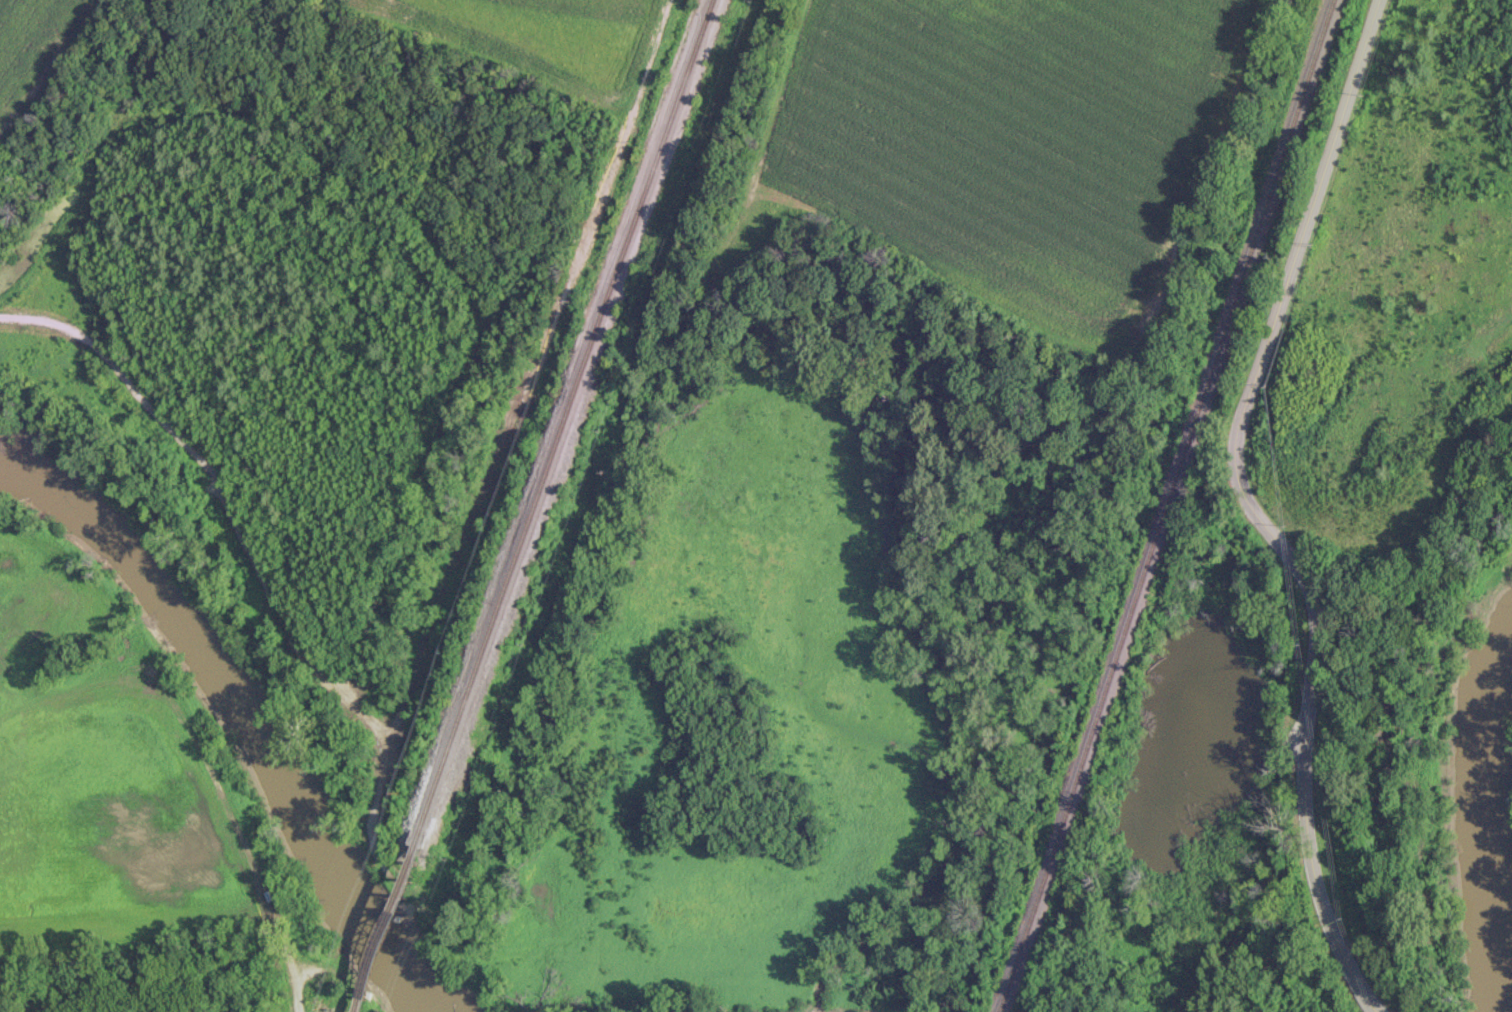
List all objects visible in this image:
railway: (559, 421)
railway: (1165, 505)
road: (1253, 510)
railway: (379, 927)
railway: (997, 1011)

